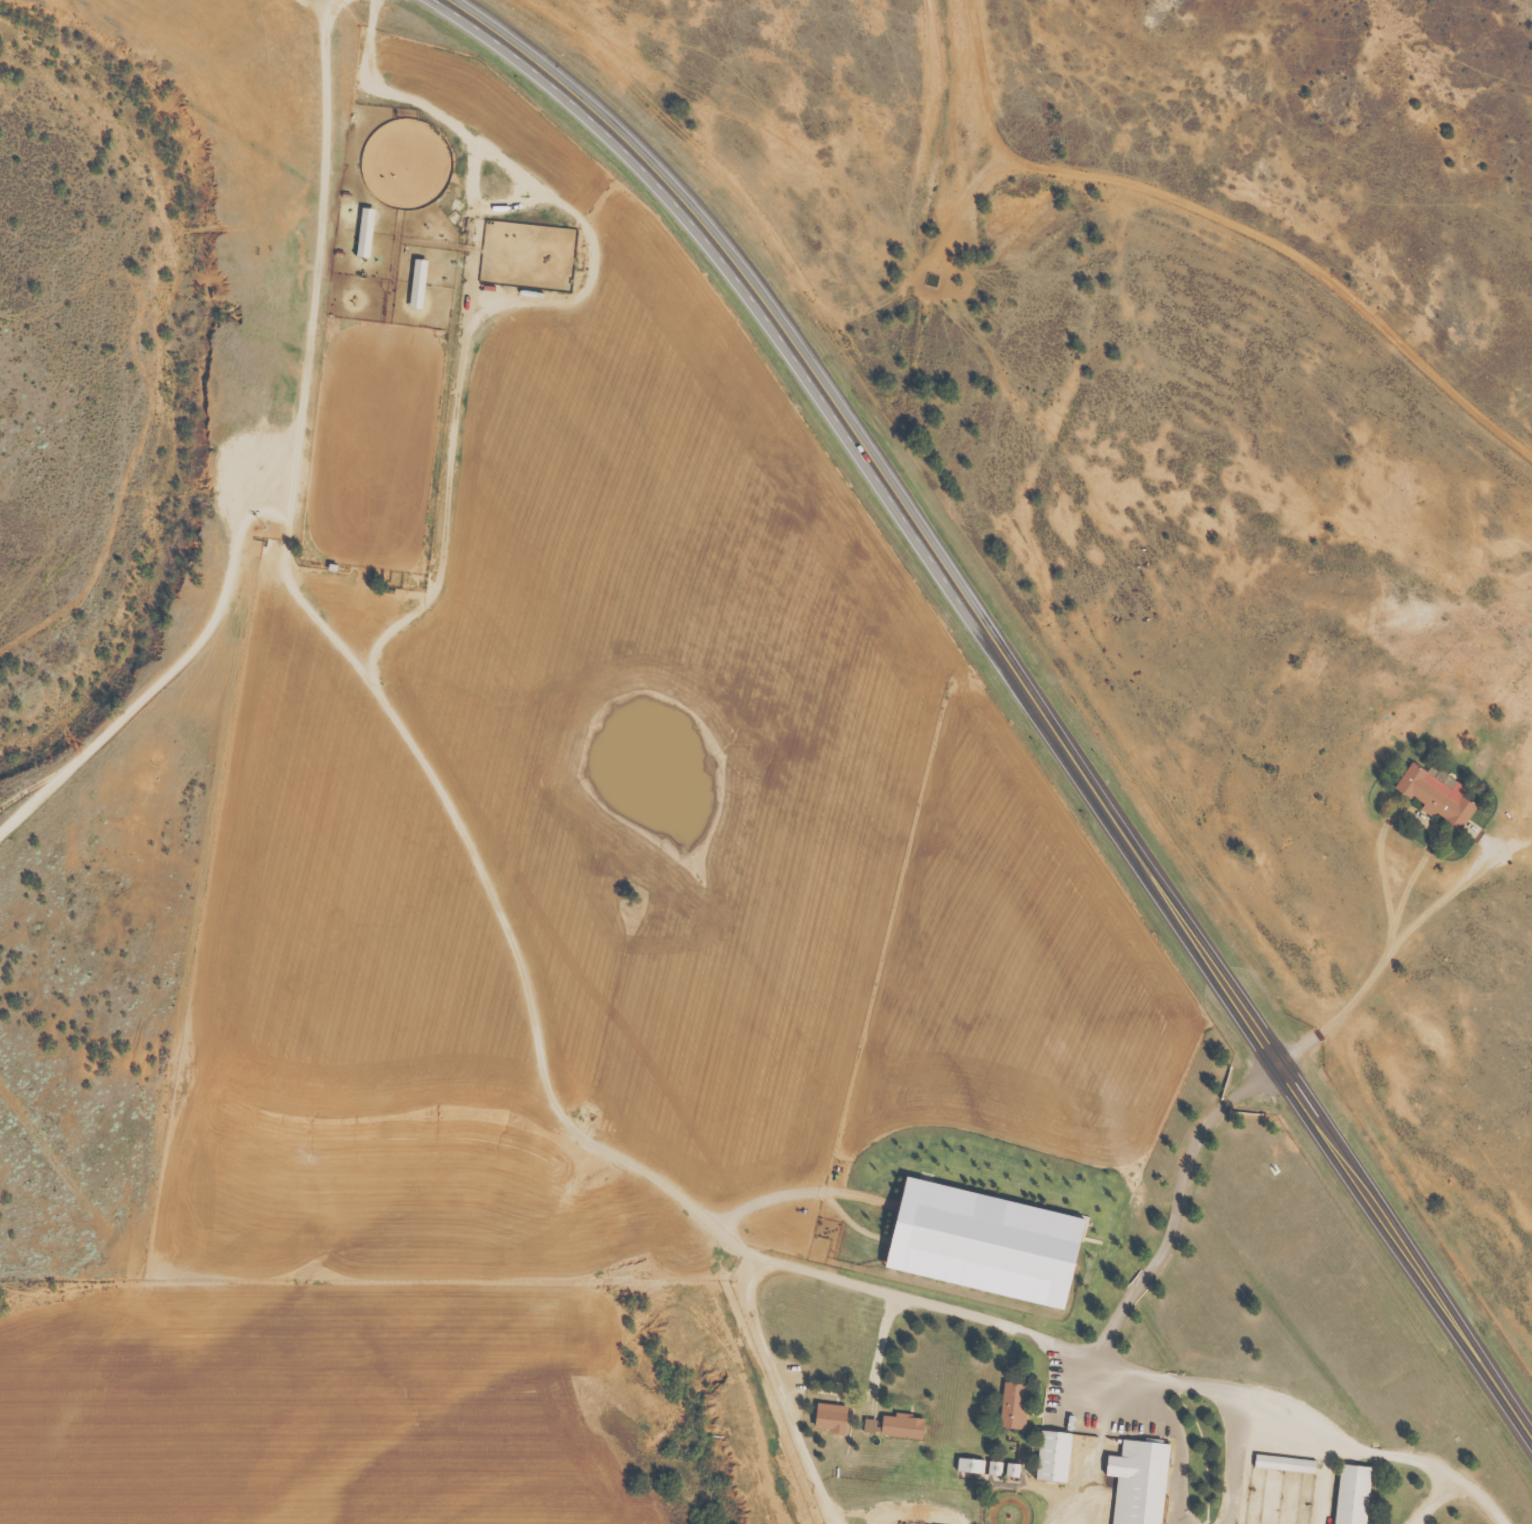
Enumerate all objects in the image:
road: (321, 3)
park: (408, 162)
road: (480, 206)
road: (1222, 215)
building: (366, 232)
road: (780, 244)
road: (318, 274)
building: (932, 280)
storage tank: (932, 280)
building: (420, 283)
road: (541, 301)
river: (202, 368)
road: (288, 530)
building: (261, 540)
storage tank: (261, 540)
road: (1021, 674)
road: (147, 696)
building: (1438, 793)
road: (1401, 811)
road: (1489, 842)
road: (200, 903)
road: (1398, 942)
road: (608, 1152)
road: (798, 1194)
road: (1179, 1201)
building: (987, 1243)
road: (882, 1338)
parking lot: (795, 1383)
road: (782, 1391)
parking lot: (1109, 1395)
building: (1016, 1404)
building: (832, 1416)
road: (1311, 1421)
building: (899, 1426)
building: (1055, 1455)
road: (1099, 1455)
building: (1286, 1462)
building: (972, 1464)
building: (997, 1467)
building: (1014, 1468)
road: (1326, 1478)
building: (1140, 1481)
building: (1354, 1494)
road: (1433, 1502)
park: (1009, 1508)

